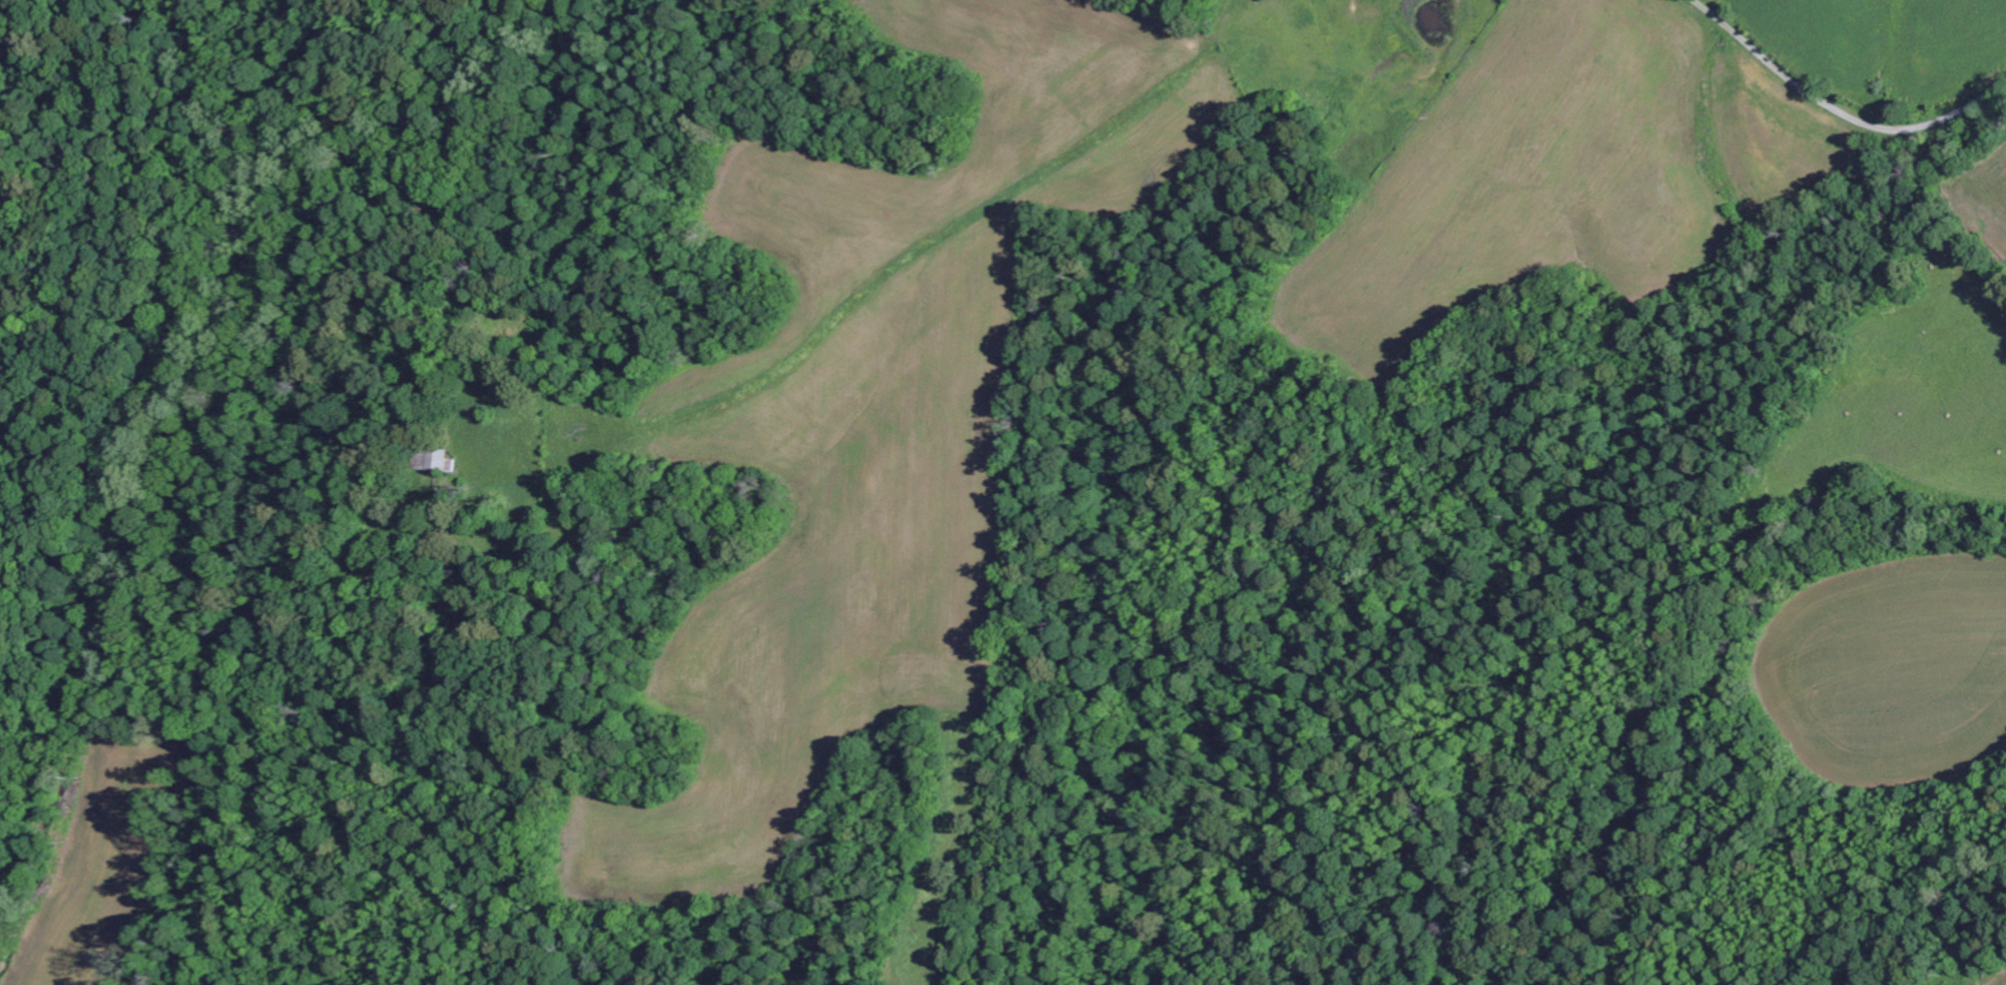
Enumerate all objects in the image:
road: (1839, 109)

